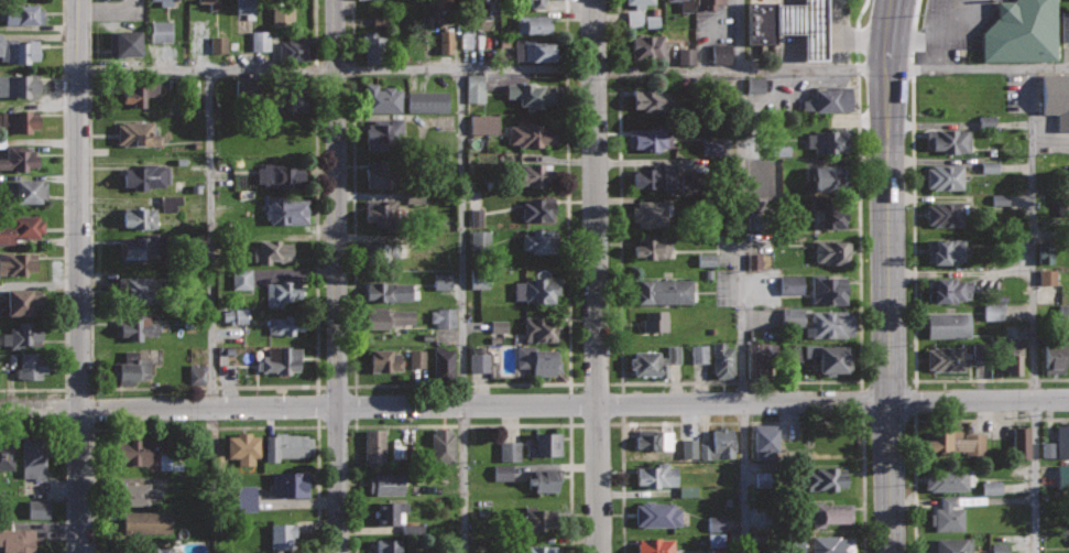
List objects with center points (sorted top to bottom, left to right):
building: (166, 2)
building: (642, 2)
building: (210, 3)
building: (440, 3)
building: (534, 3)
building: (710, 3)
building: (405, 4)
building: (688, 4)
building: (484, 6)
building: (244, 8)
building: (23, 14)
building: (282, 15)
building: (633, 19)
building: (763, 21)
building: (651, 22)
building: (533, 23)
building: (806, 24)
building: (1066, 24)
building: (160, 31)
building: (1024, 31)
building: (260, 41)
building: (124, 42)
building: (445, 42)
building: (466, 42)
building: (218, 44)
building: (647, 45)
building: (19, 48)
building: (375, 48)
building: (534, 50)
building: (294, 52)
building: (721, 53)
building: (686, 56)
road: (572, 69)
building: (19, 84)
building: (755, 84)
building: (246, 85)
building: (474, 88)
building: (138, 93)
building: (534, 94)
building: (288, 98)
building: (382, 98)
building: (1057, 98)
building: (651, 99)
building: (828, 99)
building: (426, 101)
building: (19, 120)
building: (985, 121)
building: (483, 124)
building: (138, 133)
building: (531, 133)
building: (384, 134)
building: (651, 137)
building: (828, 139)
building: (949, 140)
building: (711, 147)
building: (779, 151)
building: (19, 158)
building: (989, 167)
building: (527, 172)
building: (380, 173)
building: (280, 174)
building: (145, 175)
building: (655, 176)
building: (945, 176)
building: (827, 177)
building: (26, 191)
building: (1000, 199)
building: (171, 203)
building: (538, 208)
building: (285, 209)
building: (651, 213)
building: (945, 213)
building: (383, 214)
building: (835, 214)
building: (140, 217)
building: (476, 217)
road: (64, 227)
building: (21, 228)
road: (210, 239)
building: (542, 240)
building: (479, 241)
building: (145, 246)
building: (653, 247)
building: (273, 250)
building: (946, 250)
building: (831, 251)
building: (381, 252)
building: (1045, 253)
building: (706, 259)
building: (753, 261)
building: (17, 262)
road: (913, 267)
road: (336, 275)
road: (890, 275)
road: (77, 276)
road: (596, 276)
road: (742, 276)
building: (1047, 276)
building: (241, 279)
building: (479, 279)
building: (440, 281)
building: (790, 284)
building: (142, 289)
building: (537, 289)
building: (828, 289)
building: (950, 289)
building: (389, 290)
building: (283, 291)
building: (663, 291)
building: (23, 302)
road: (461, 311)
road: (1036, 311)
building: (992, 312)
building: (1063, 314)
building: (233, 316)
building: (386, 316)
building: (441, 317)
building: (792, 317)
building: (656, 321)
building: (286, 323)
building: (830, 323)
building: (947, 324)
building: (135, 325)
building: (498, 326)
building: (542, 328)
building: (23, 334)
building: (795, 353)
building: (698, 354)
building: (988, 356)
building: (831, 357)
building: (1055, 357)
building: (284, 358)
building: (417, 358)
building: (947, 358)
building: (1013, 358)
building: (384, 359)
building: (537, 360)
building: (722, 360)
building: (763, 360)
building: (655, 361)
building: (479, 362)
building: (31, 365)
building: (444, 365)
building: (131, 368)
building: (196, 375)
road: (741, 381)
road: (460, 384)
road: (204, 387)
road: (534, 404)
road: (925, 420)
road: (743, 422)
road: (462, 425)
road: (207, 426)
road: (31, 430)
building: (655, 438)
building: (1061, 438)
building: (955, 442)
building: (1021, 443)
building: (287, 444)
building: (374, 444)
building: (545, 444)
building: (719, 444)
building: (767, 444)
building: (443, 445)
building: (244, 446)
building: (688, 448)
building: (133, 451)
building: (509, 451)
building: (7, 455)
building: (34, 456)
building: (162, 460)
building: (711, 467)
building: (502, 473)
building: (656, 475)
building: (823, 478)
building: (948, 478)
building: (1062, 478)
building: (545, 479)
building: (762, 479)
building: (386, 482)
building: (291, 484)
building: (991, 487)
building: (687, 491)
building: (141, 494)
building: (246, 499)
building: (37, 509)
building: (390, 511)
building: (953, 511)
building: (826, 512)
building: (657, 513)
building: (538, 518)
building: (145, 522)
building: (716, 523)
building: (283, 533)
building: (18, 540)
building: (716, 540)
building: (796, 544)
building: (832, 544)
building: (389, 545)
building: (656, 545)
building: (950, 545)
building: (999, 547)
building: (536, 549)
building: (164, 550)
building: (717, 552)

